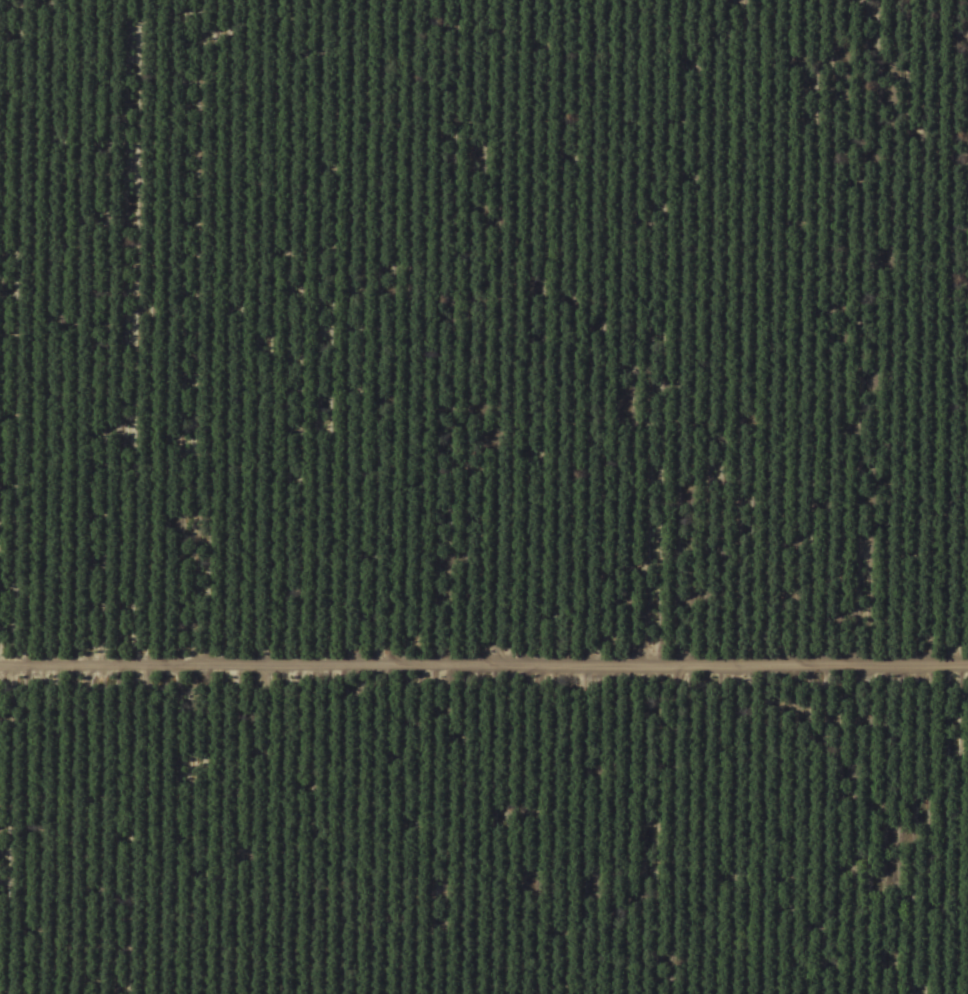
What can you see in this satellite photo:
crop: (484, 497)

